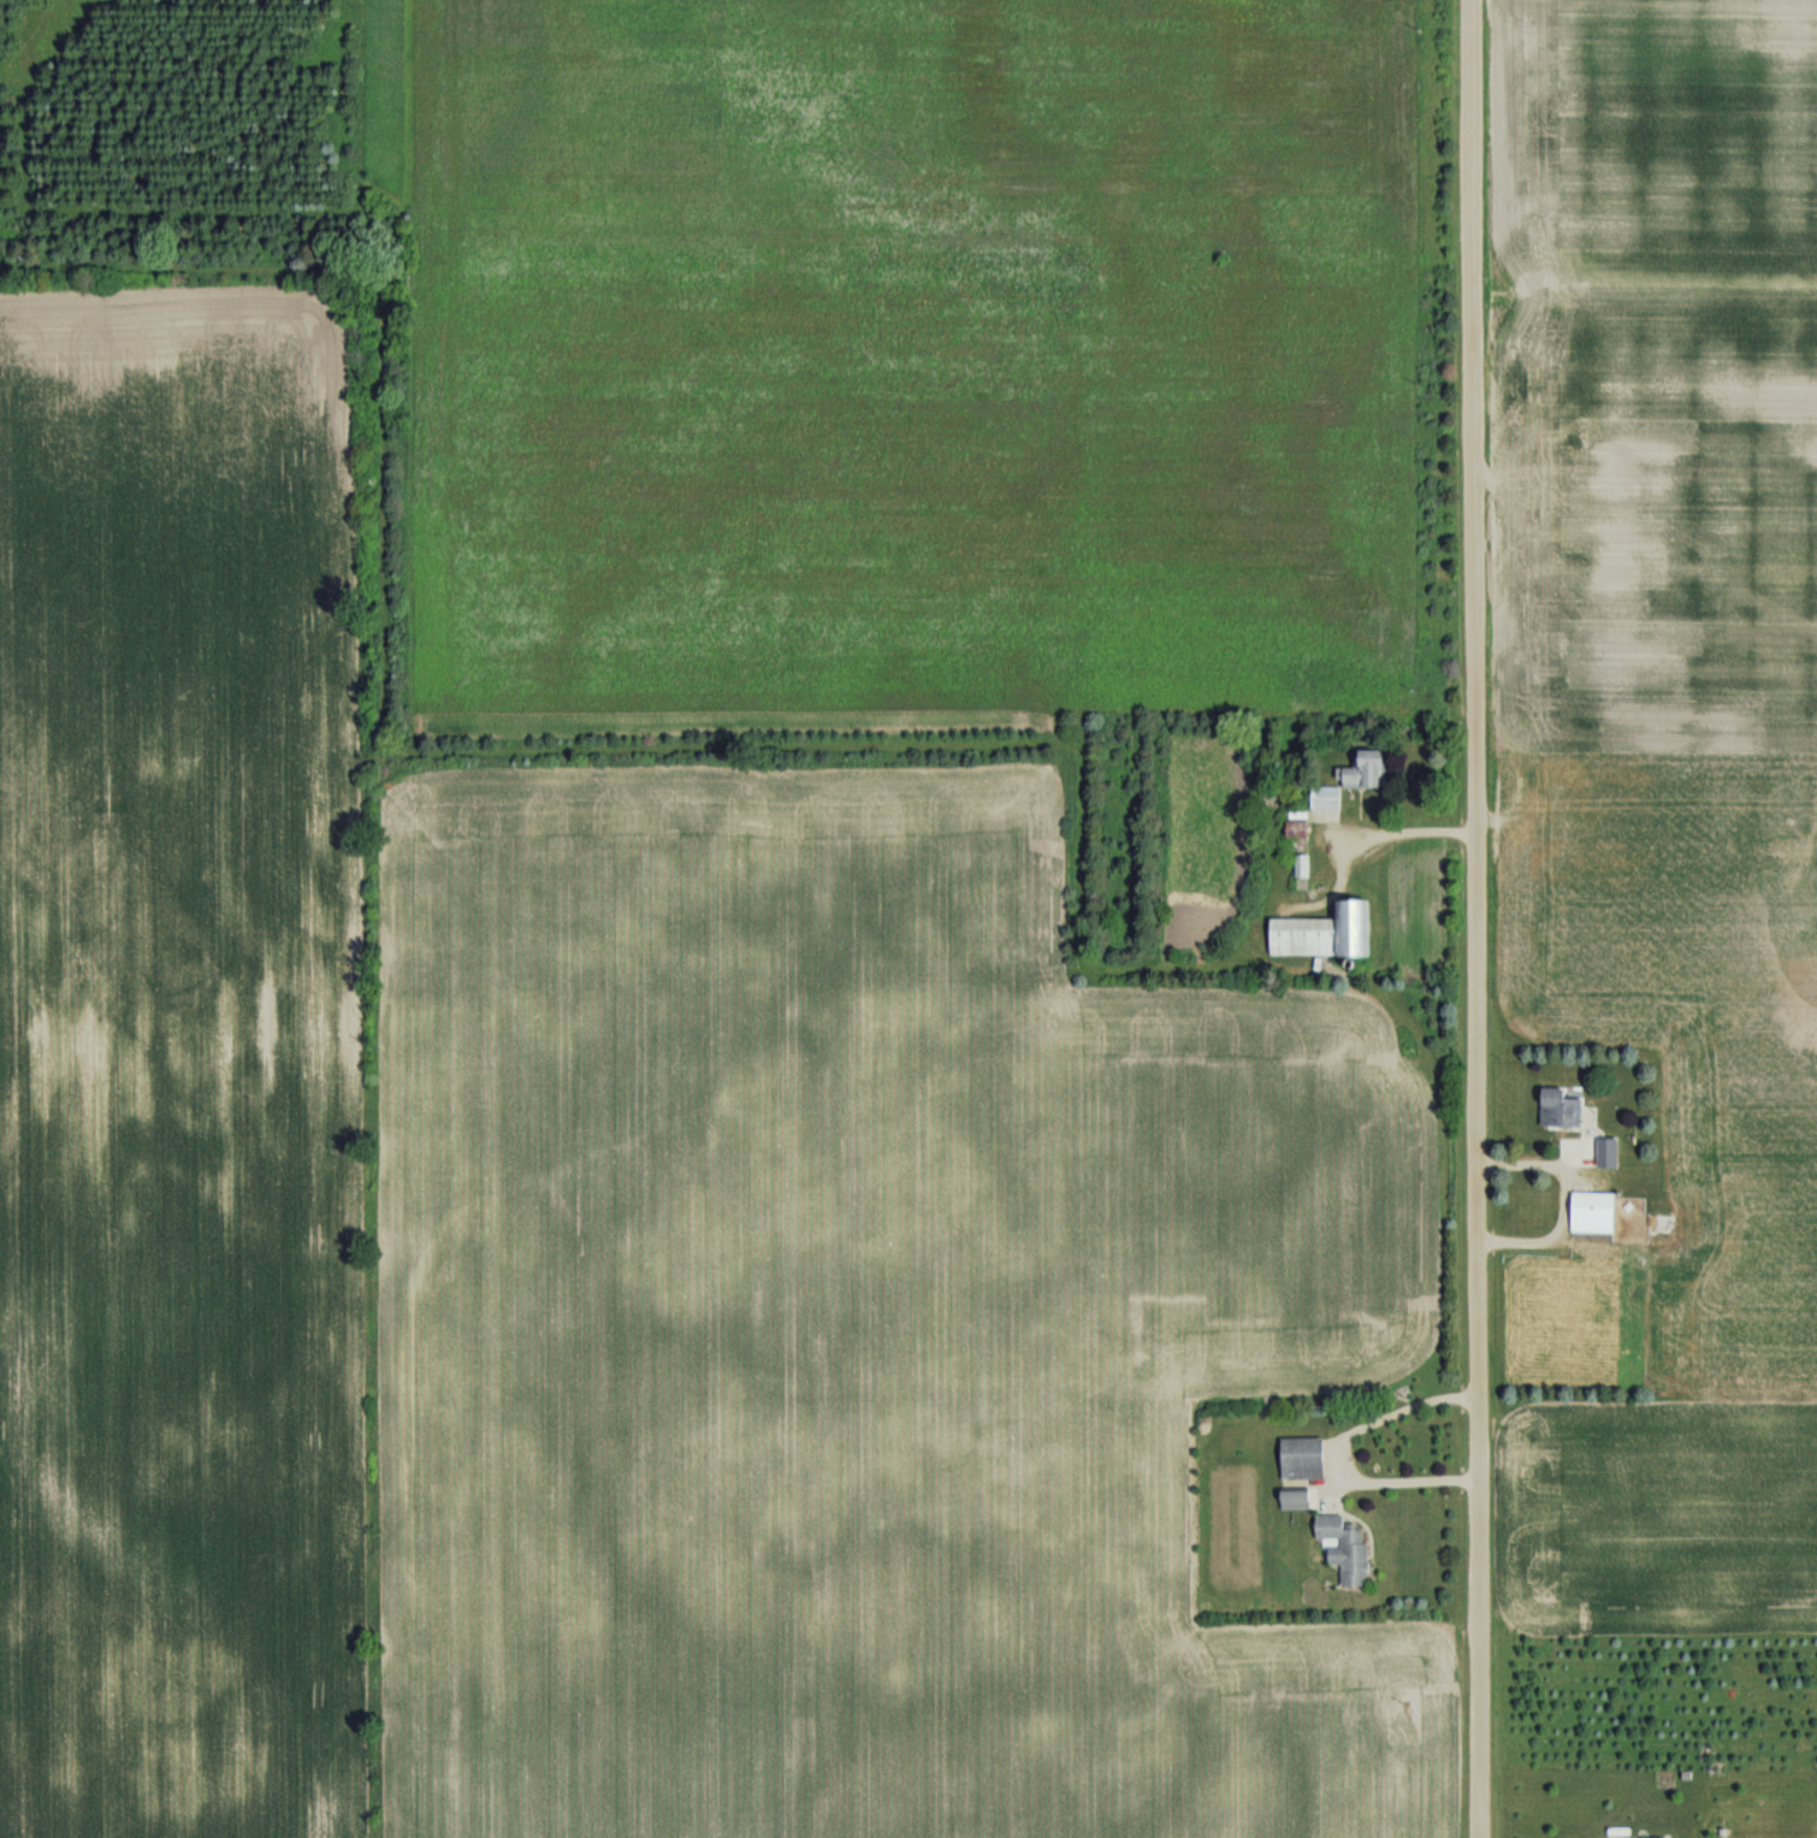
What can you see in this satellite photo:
building: (1371, 772)
building: (1327, 797)
building: (1301, 838)
road: (1479, 918)
building: (1327, 933)
building: (1563, 1107)
building: (1605, 1152)
road: (1563, 1194)
building: (1596, 1211)
road: (1336, 1452)
building: (1306, 1458)
building: (1298, 1499)
building: (1348, 1548)
building: (1664, 1837)

